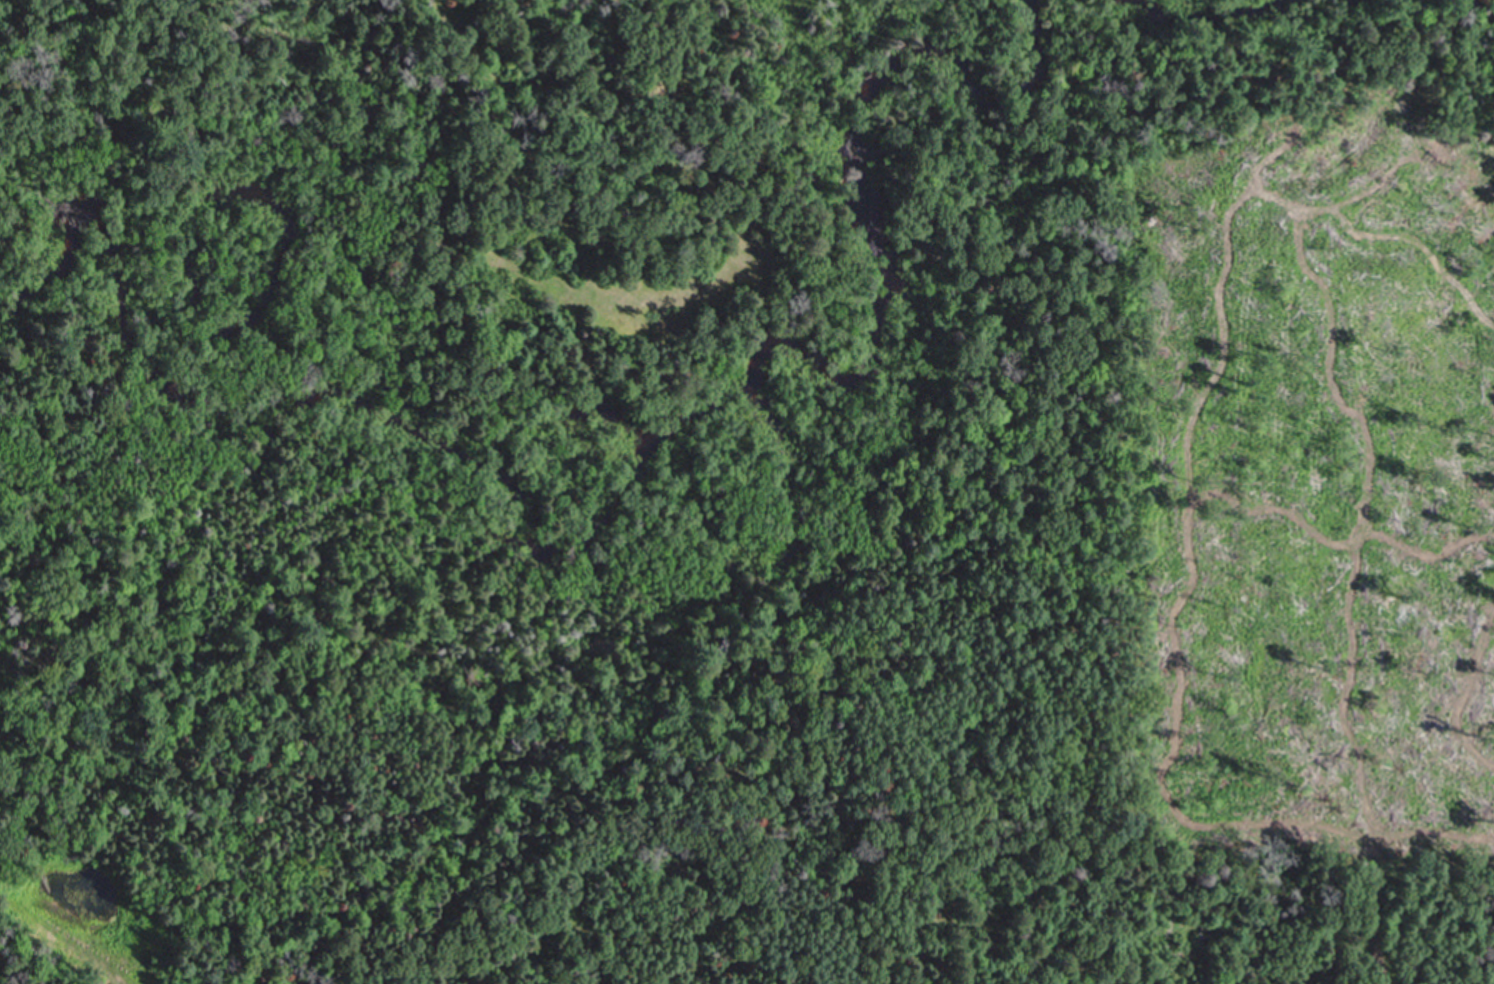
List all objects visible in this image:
river: (1209, 15)
park: (89, 17)
river: (89, 228)
river: (757, 381)
road: (43, 966)

